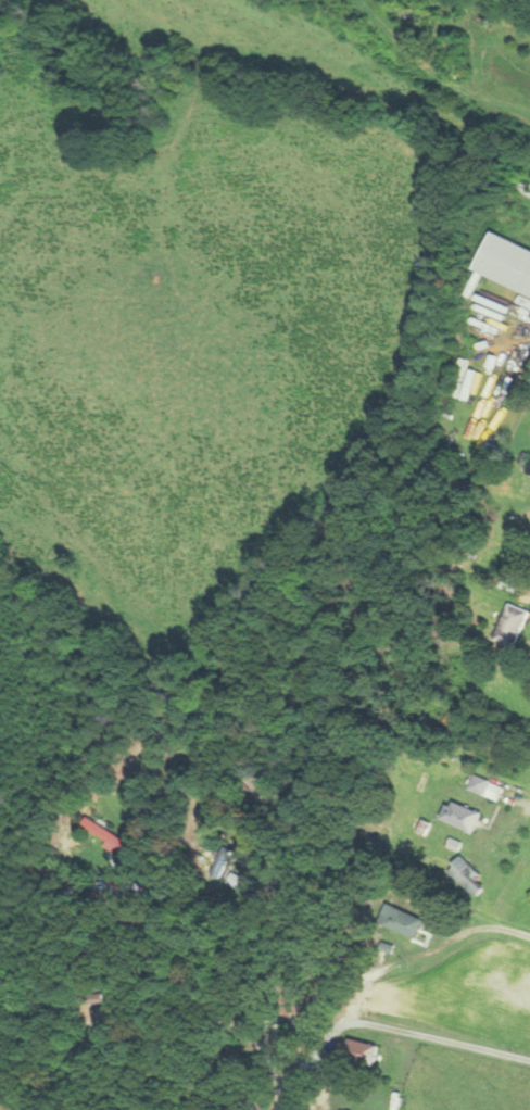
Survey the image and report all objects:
road: (520, 802)
road: (116, 962)
road: (356, 995)
road: (311, 1057)

